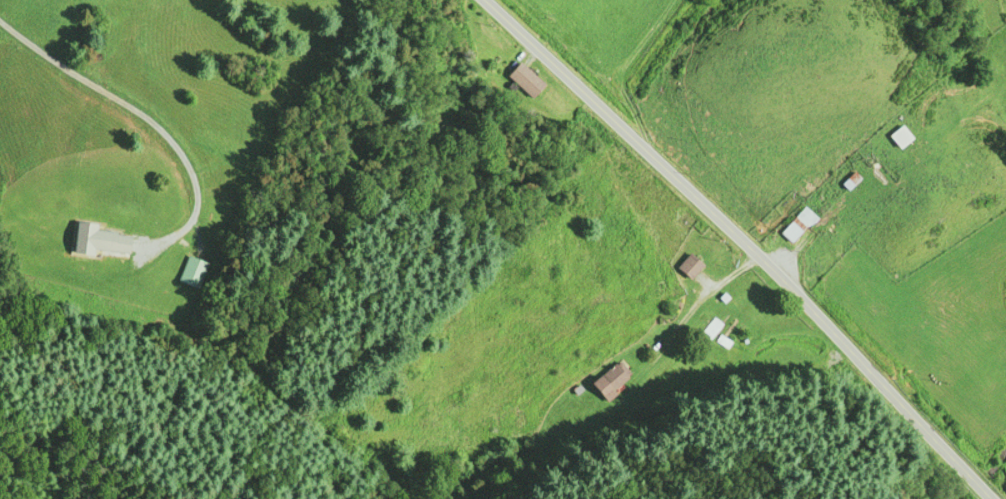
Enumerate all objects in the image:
building: (522, 78)
building: (897, 135)
building: (794, 223)
building: (94, 238)
road: (745, 244)
building: (686, 264)
building: (189, 270)
building: (707, 326)
building: (608, 378)

